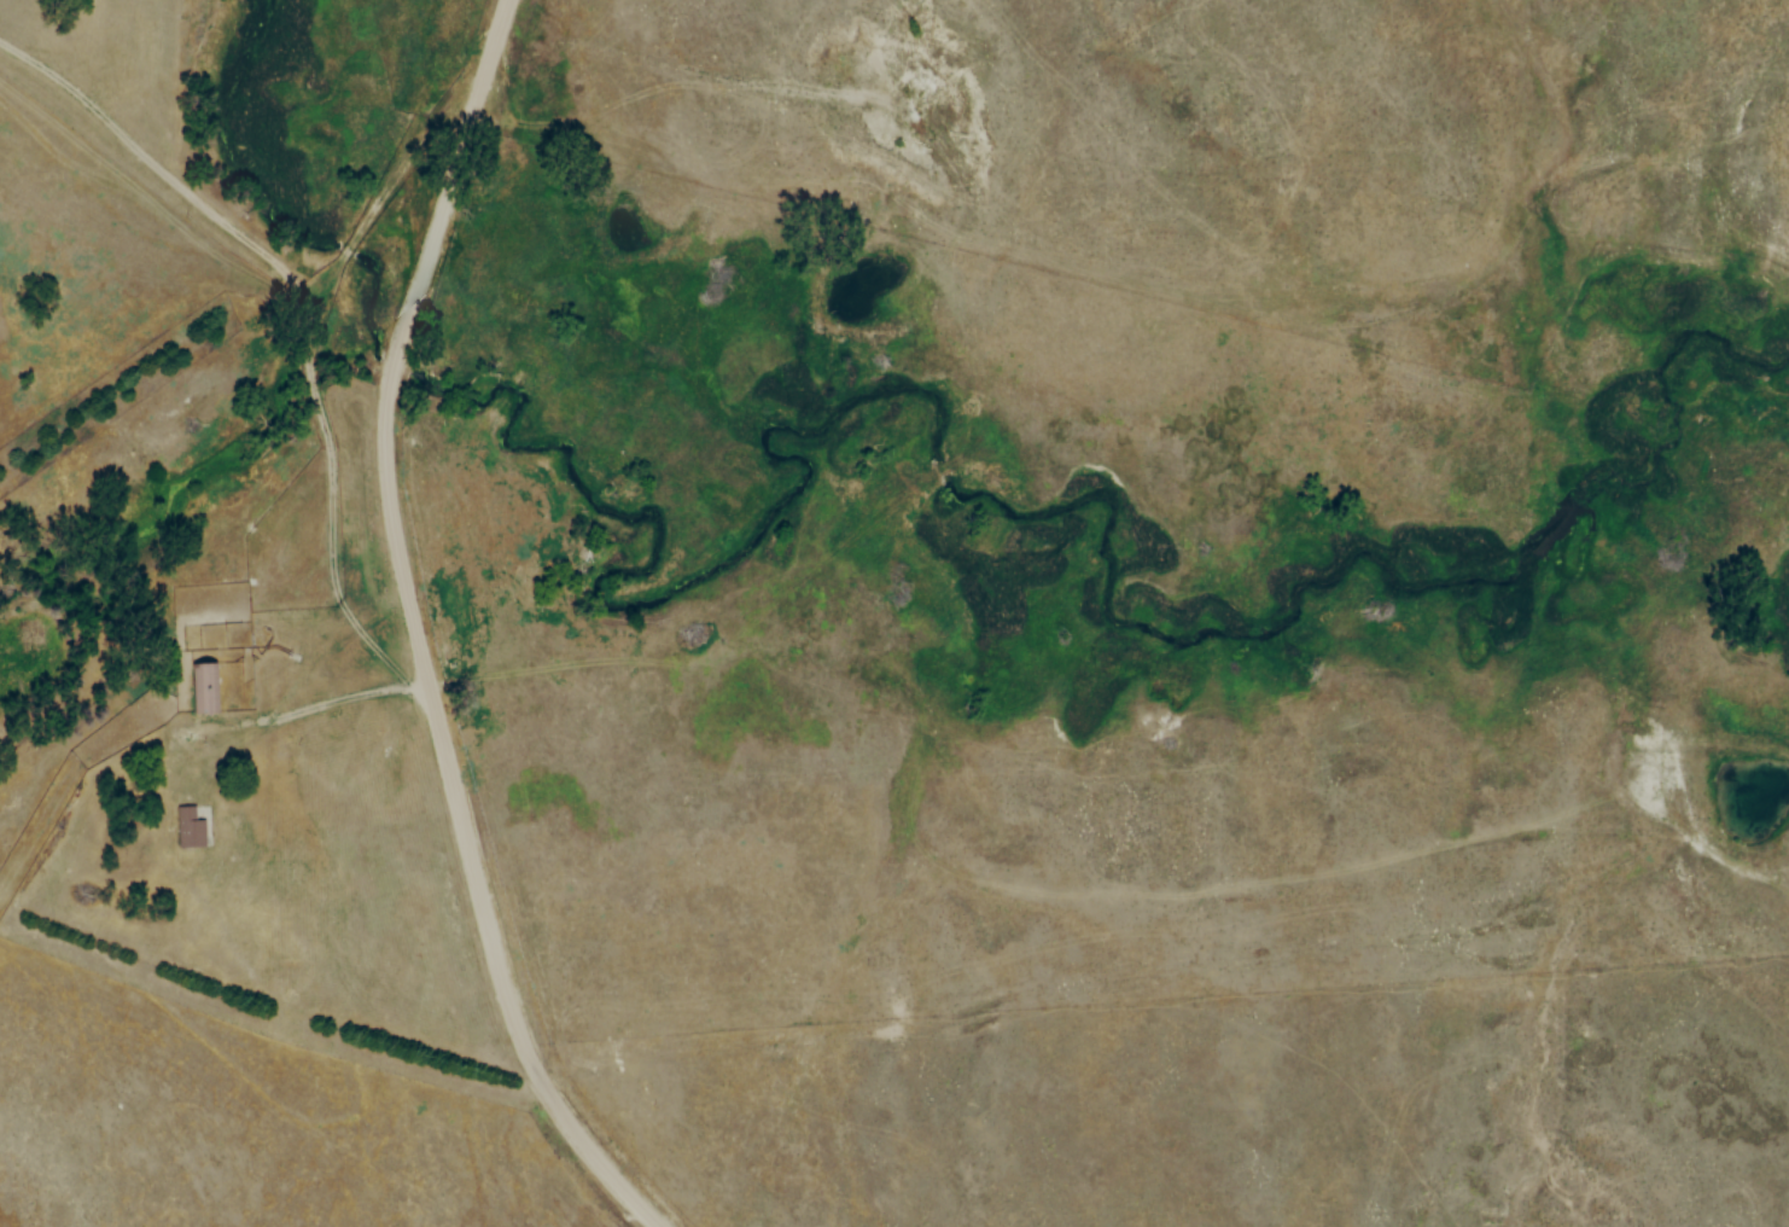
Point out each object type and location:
road: (309, 277)
road: (420, 633)
building: (204, 688)
road: (305, 706)
building: (188, 828)

